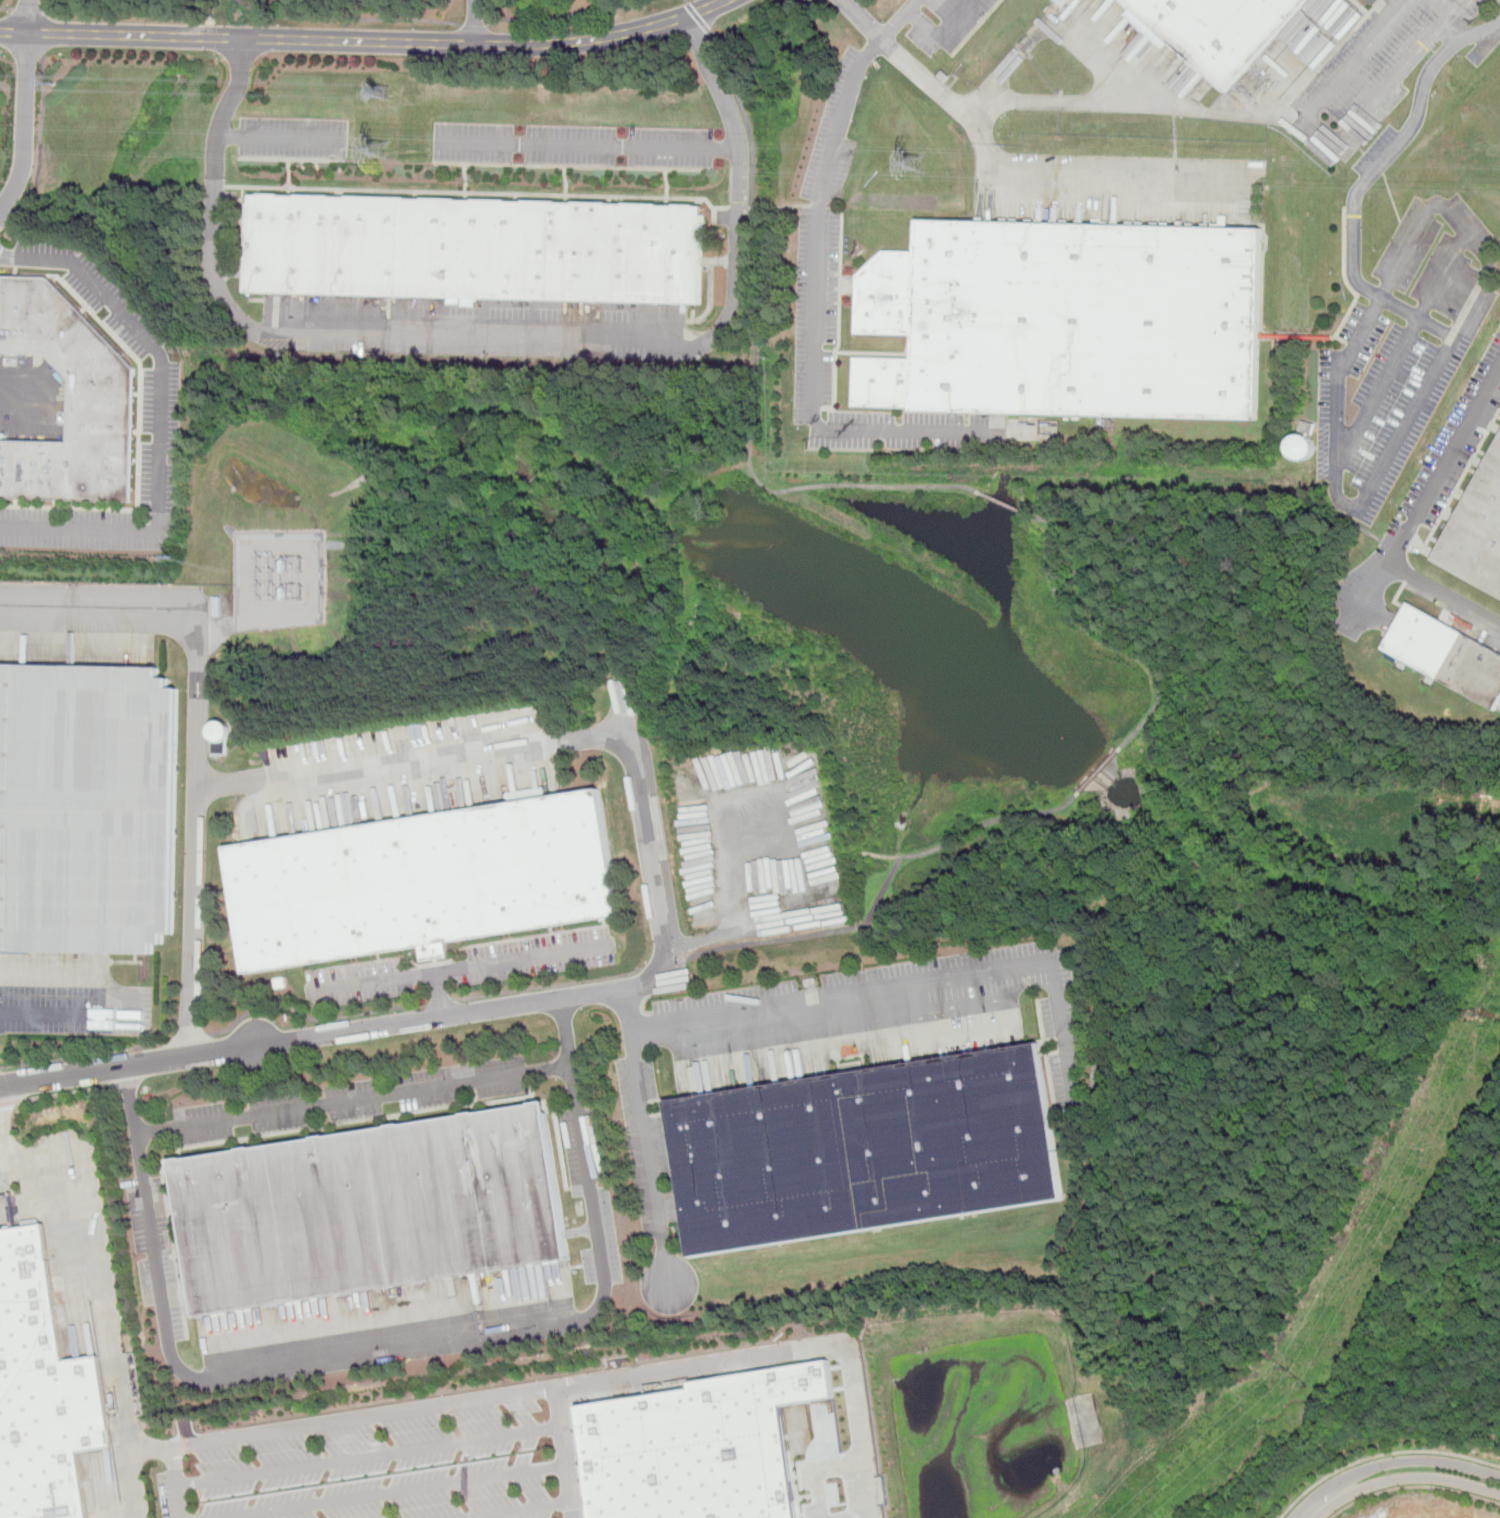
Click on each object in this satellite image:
parking lot: (536, 0)
road: (684, 2)
building: (1062, 2)
parking lot: (1498, 2)
road: (53, 4)
road: (5, 8)
road: (27, 9)
road: (562, 14)
road: (28, 16)
road: (348, 18)
road: (697, 18)
road: (895, 19)
parking lot: (939, 21)
road: (475, 22)
road: (1058, 24)
road: (473, 26)
building: (1216, 30)
road: (941, 34)
road: (364, 41)
road: (1434, 51)
road: (1355, 57)
parking lot: (1370, 73)
power tower: (53, 81)
road: (1386, 88)
power tower: (379, 95)
road: (1073, 103)
road: (25, 127)
road: (283, 136)
parking lot: (292, 138)
road: (589, 143)
parking lot: (573, 145)
road: (1393, 149)
power tower: (374, 154)
road: (739, 160)
power tower: (911, 171)
road: (1087, 176)
road: (586, 195)
road: (785, 206)
road: (1393, 206)
building: (477, 248)
parking lot: (819, 263)
road: (817, 296)
building: (1072, 317)
road: (1417, 319)
road: (346, 335)
road: (1402, 347)
parking lot: (1402, 351)
road: (19, 399)
building: (69, 401)
parking lot: (161, 401)
road: (1418, 408)
road: (162, 422)
building: (1302, 448)
road: (788, 490)
parking lot: (1422, 498)
road: (1009, 502)
road: (1233, 511)
road: (1416, 518)
building: (1477, 531)
road: (1098, 556)
power substation: (281, 582)
road: (1370, 596)
road: (1097, 635)
building: (1447, 653)
road: (196, 732)
road: (415, 759)
road: (1098, 772)
building: (87, 808)
parking lot: (759, 841)
road: (877, 855)
building: (422, 881)
road: (886, 886)
road: (682, 941)
road: (502, 962)
road: (663, 963)
parking lot: (467, 967)
road: (372, 982)
road: (548, 986)
road: (604, 991)
road: (907, 995)
parking lot: (68, 997)
road: (440, 1003)
road: (73, 1010)
road: (310, 1017)
parking lot: (874, 1020)
road: (189, 1038)
road: (86, 1056)
road: (130, 1067)
road: (1, 1068)
road: (123, 1087)
road: (66, 1094)
road: (355, 1099)
parking lot: (353, 1100)
road: (10, 1104)
road: (3, 1131)
road: (647, 1134)
parking lot: (646, 1146)
building: (864, 1150)
parking lot: (592, 1194)
power tower: (1390, 1200)
building: (375, 1209)
road: (96, 1269)
road: (398, 1341)
power tower: (1294, 1377)
building: (40, 1391)
road: (486, 1400)
road: (858, 1443)
building: (696, 1447)
road: (561, 1454)
road: (1382, 1456)
road: (366, 1457)
parking lot: (386, 1462)
road: (1392, 1463)
road: (813, 1467)
road: (1405, 1477)
road: (174, 1483)
road: (1413, 1486)
road: (134, 1487)
road: (394, 1491)
road: (519, 1510)

